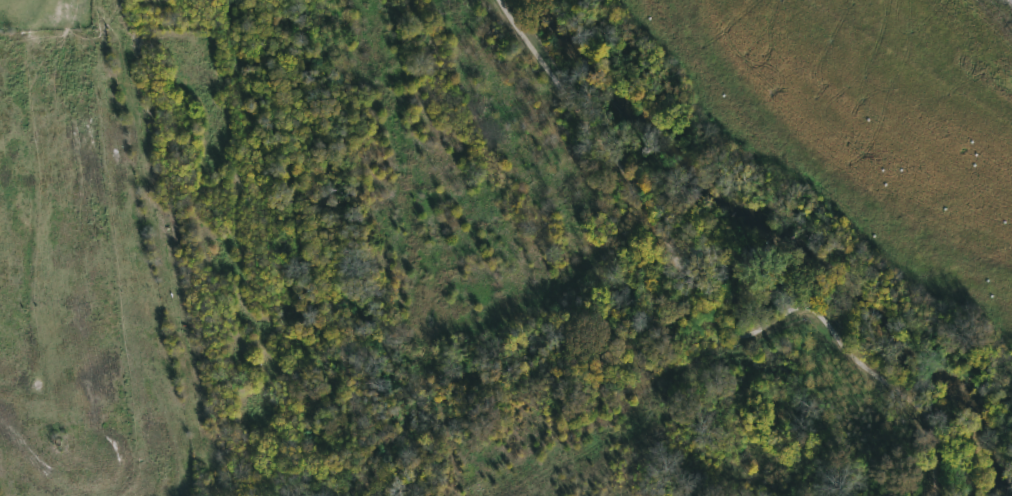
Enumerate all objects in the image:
road: (705, 305)

